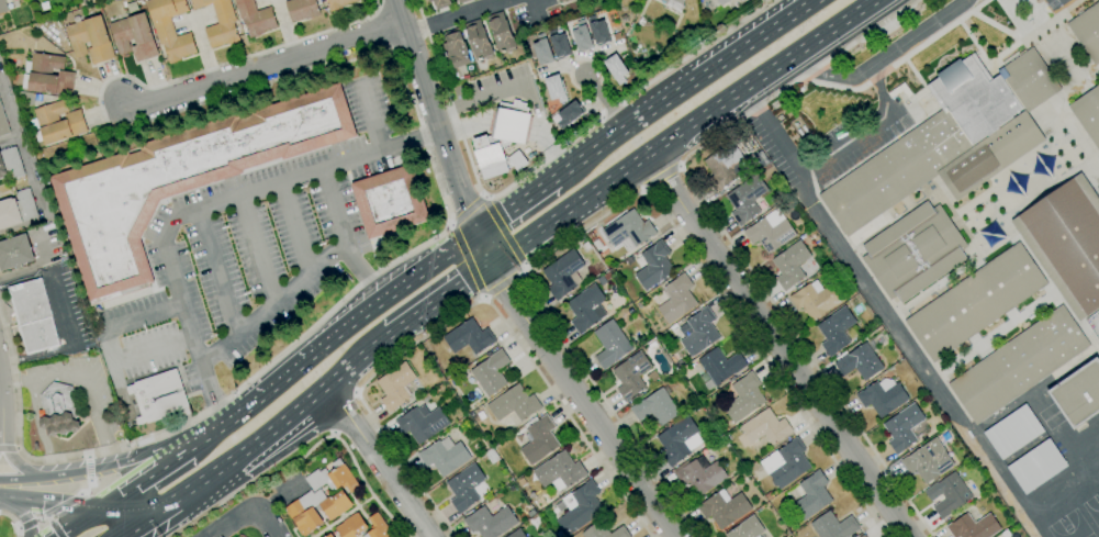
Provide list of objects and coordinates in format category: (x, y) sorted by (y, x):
building: (560, 0)
building: (569, 0)
building: (463, 1)
building: (722, 2)
building: (338, 3)
building: (440, 3)
building: (674, 3)
parking lot: (1055, 4)
building: (3, 7)
building: (302, 10)
building: (65, 12)
road: (456, 16)
building: (255, 18)
building: (641, 21)
building: (220, 22)
building: (170, 29)
building: (598, 31)
building: (1087, 31)
building: (501, 32)
building: (583, 36)
building: (134, 37)
building: (90, 40)
building: (479, 41)
building: (559, 44)
building: (456, 49)
building: (543, 51)
road: (884, 56)
building: (616, 68)
road: (258, 69)
building: (47, 75)
building: (642, 78)
road: (527, 83)
building: (556, 87)
road: (683, 88)
building: (800, 90)
building: (38, 97)
road: (605, 99)
road: (751, 102)
building: (570, 113)
building: (1088, 114)
road: (371, 118)
building: (3, 123)
building: (57, 123)
building: (795, 124)
building: (512, 125)
building: (804, 128)
building: (568, 131)
road: (865, 131)
building: (799, 132)
road: (685, 133)
road: (426, 138)
building: (949, 141)
road: (781, 143)
parking lot: (818, 147)
building: (496, 158)
building: (762, 158)
road: (546, 160)
building: (10, 164)
building: (724, 166)
building: (767, 167)
flagpole: (476, 172)
road: (661, 178)
building: (179, 181)
building: (1098, 188)
road: (626, 199)
building: (745, 199)
building: (390, 201)
road: (201, 206)
road: (516, 208)
building: (16, 209)
road: (295, 230)
building: (629, 230)
road: (726, 232)
traffic signals: (476, 234)
road: (504, 234)
building: (770, 234)
road: (453, 242)
building: (1066, 242)
road: (258, 249)
building: (913, 251)
building: (14, 253)
parking lot: (253, 253)
traffic signals: (491, 264)
building: (790, 264)
building: (654, 265)
road: (220, 270)
road: (366, 272)
building: (563, 273)
building: (606, 276)
road: (307, 279)
road: (502, 284)
road: (505, 284)
building: (674, 299)
building: (816, 299)
road: (437, 300)
road: (878, 300)
building: (976, 302)
building: (97, 307)
road: (466, 307)
building: (586, 307)
building: (91, 310)
road: (363, 313)
building: (33, 316)
road: (144, 316)
road: (65, 321)
building: (674, 327)
building: (838, 331)
building: (698, 332)
building: (469, 337)
building: (610, 344)
road: (778, 347)
road: (154, 348)
building: (862, 359)
road: (356, 363)
building: (680, 363)
building: (1019, 365)
building: (719, 367)
building: (491, 372)
road: (114, 373)
building: (631, 374)
building: (653, 376)
road: (57, 377)
road: (15, 382)
building: (396, 385)
road: (355, 392)
building: (1078, 394)
building: (883, 396)
building: (159, 398)
building: (744, 398)
building: (633, 399)
building: (685, 401)
building: (514, 404)
building: (657, 406)
building: (58, 411)
building: (403, 411)
road: (343, 412)
building: (471, 414)
road: (287, 419)
road: (226, 423)
building: (422, 423)
road: (1, 426)
building: (765, 427)
building: (902, 427)
building: (724, 429)
building: (1013, 432)
road: (333, 434)
building: (969, 434)
building: (539, 439)
building: (679, 440)
road: (9, 447)
road: (1, 449)
road: (307, 451)
road: (187, 454)
building: (444, 456)
road: (379, 461)
building: (928, 461)
building: (786, 463)
road: (18, 467)
building: (1036, 467)
road: (98, 468)
building: (559, 471)
building: (734, 471)
building: (699, 474)
building: (333, 479)
building: (520, 482)
road: (145, 484)
building: (464, 486)
road: (182, 494)
building: (949, 494)
road: (278, 495)
building: (769, 495)
building: (811, 495)
road: (69, 502)
road: (72, 504)
building: (336, 505)
traffic signals: (113, 506)
building: (579, 507)
building: (724, 507)
park: (1094, 507)
building: (306, 512)
building: (530, 513)
road: (20, 514)
road: (244, 515)
road: (14, 521)
road: (87, 522)
traffic signals: (143, 522)
building: (490, 522)
road: (54, 526)
building: (351, 526)
building: (833, 526)
building: (974, 526)
park: (1072, 526)
building: (378, 527)
building: (747, 528)
building: (604, 532)
building: (516, 534)
building: (559, 534)
building: (311, 535)
building: (329, 536)
building: (863, 536)

